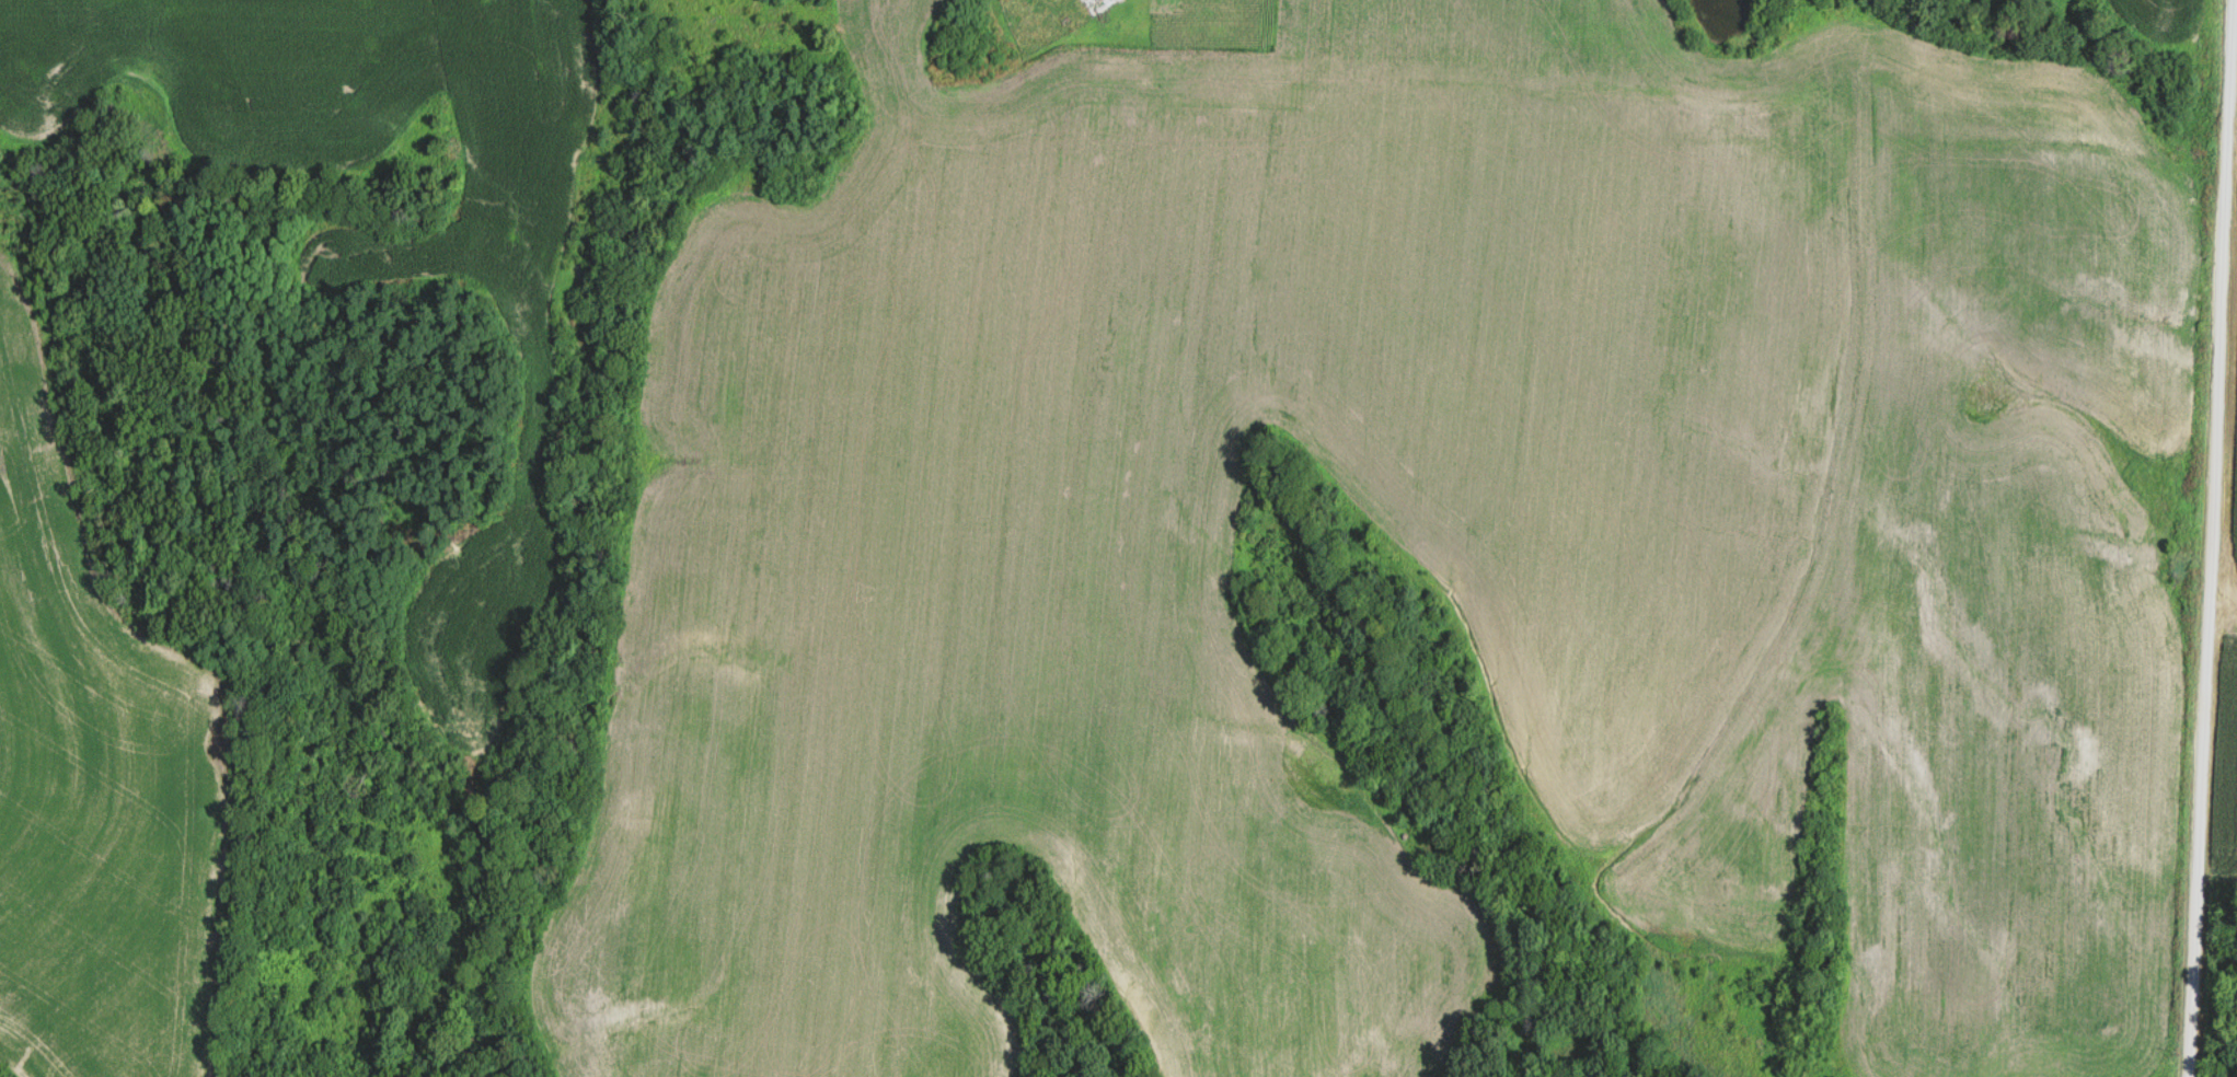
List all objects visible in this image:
road: (2211, 538)

